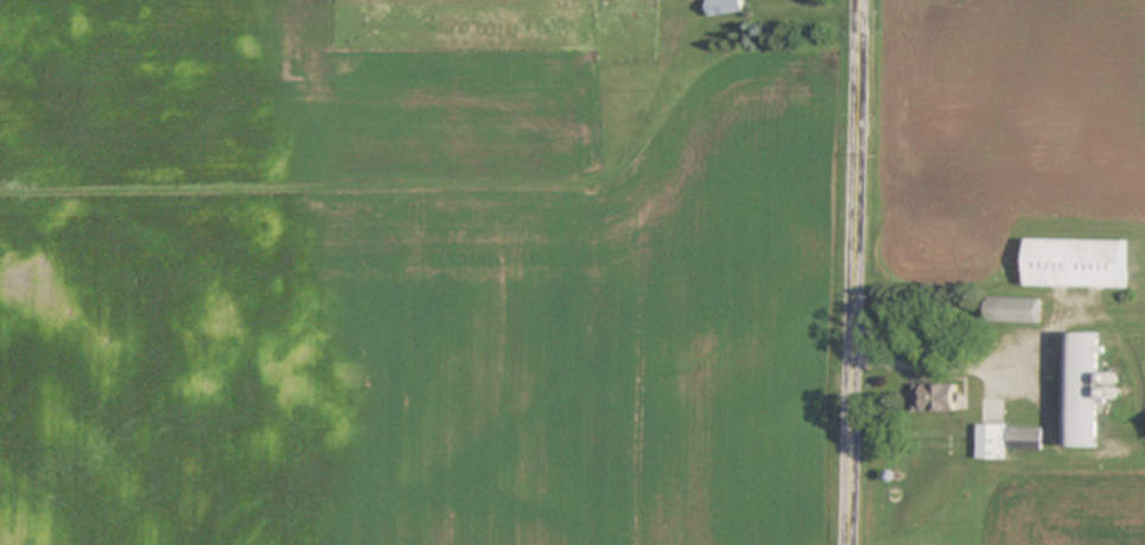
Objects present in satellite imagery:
building: (724, 7)
building: (1076, 264)
road: (852, 271)
building: (1011, 310)
building: (1080, 392)
building: (936, 398)
building: (1022, 440)
building: (990, 442)

